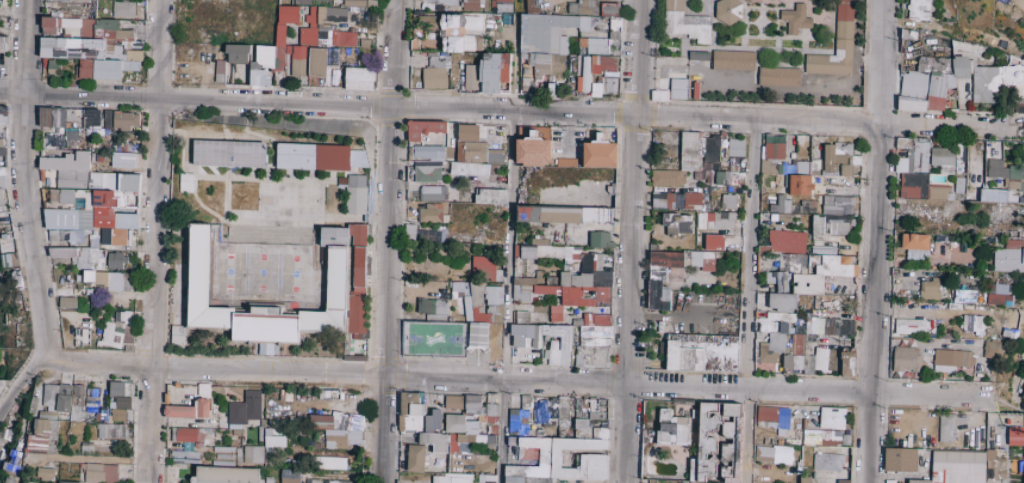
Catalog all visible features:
building: (312, 2)
building: (444, 2)
building: (359, 3)
building: (470, 5)
building: (502, 5)
building: (530, 5)
building: (582, 6)
building: (122, 9)
building: (609, 9)
building: (918, 10)
building: (728, 11)
building: (795, 18)
building: (685, 22)
building: (326, 27)
building: (614, 31)
building: (459, 32)
building: (3, 43)
building: (544, 44)
building: (836, 45)
building: (90, 46)
building: (277, 51)
building: (237, 53)
building: (698, 56)
building: (732, 60)
building: (319, 62)
building: (219, 71)
building: (435, 72)
building: (487, 73)
building: (582, 74)
building: (603, 75)
building: (778, 76)
building: (359, 78)
building: (954, 82)
building: (677, 88)
building: (659, 95)
building: (1020, 109)
building: (3, 115)
building: (61, 117)
building: (106, 118)
building: (125, 120)
building: (92, 121)
building: (423, 129)
building: (70, 137)
building: (53, 140)
building: (473, 146)
building: (735, 147)
building: (534, 148)
building: (2, 152)
building: (427, 152)
building: (599, 153)
building: (229, 154)
building: (912, 155)
building: (320, 157)
building: (834, 157)
building: (779, 158)
building: (942, 159)
building: (124, 160)
building: (689, 160)
building: (67, 169)
building: (994, 169)
building: (468, 170)
building: (426, 173)
building: (2, 177)
building: (721, 178)
building: (1016, 179)
road: (21, 180)
building: (185, 183)
building: (800, 185)
building: (920, 188)
building: (432, 193)
building: (355, 195)
building: (490, 196)
building: (999, 196)
building: (1, 199)
building: (662, 199)
building: (690, 201)
building: (727, 201)
building: (779, 205)
building: (837, 205)
building: (430, 213)
building: (564, 215)
building: (715, 220)
building: (677, 224)
building: (836, 224)
building: (817, 225)
building: (409, 232)
building: (57, 235)
building: (428, 235)
building: (598, 239)
road: (153, 241)
road: (386, 241)
road: (630, 241)
building: (786, 241)
building: (915, 245)
building: (822, 250)
building: (6, 251)
building: (547, 251)
building: (1009, 256)
building: (115, 260)
building: (587, 261)
building: (791, 263)
building: (830, 265)
building: (94, 268)
building: (483, 268)
building: (656, 275)
building: (601, 277)
building: (777, 279)
building: (807, 284)
building: (457, 287)
building: (999, 288)
building: (928, 289)
building: (338, 290)
building: (531, 290)
building: (581, 291)
building: (493, 295)
building: (970, 296)
building: (999, 300)
building: (67, 302)
building: (781, 302)
building: (432, 308)
building: (555, 311)
building: (479, 315)
building: (972, 324)
building: (831, 326)
building: (910, 326)
building: (1010, 327)
building: (117, 330)
building: (177, 335)
building: (440, 338)
building: (593, 342)
building: (525, 343)
building: (796, 344)
building: (770, 349)
building: (992, 349)
building: (702, 353)
building: (616, 357)
building: (905, 359)
building: (951, 361)
building: (791, 363)
building: (847, 364)
building: (118, 388)
building: (203, 394)
building: (1023, 395)
building: (92, 397)
building: (122, 402)
building: (452, 402)
building: (473, 404)
building: (245, 408)
building: (491, 410)
building: (411, 411)
building: (857, 413)
building: (47, 415)
building: (117, 415)
building: (773, 417)
building: (831, 418)
building: (433, 420)
building: (580, 425)
building: (672, 428)
building: (946, 428)
building: (339, 429)
building: (110, 431)
building: (461, 433)
building: (185, 434)
building: (40, 436)
building: (1015, 436)
building: (821, 437)
building: (434, 441)
building: (273, 442)
building: (717, 443)
building: (1, 444)
building: (187, 446)
building: (86, 447)
building: (252, 454)
building: (772, 454)
building: (183, 457)
building: (415, 458)
building: (559, 458)
building: (900, 459)
building: (827, 462)
building: (329, 463)
building: (994, 466)
building: (956, 467)
building: (47, 473)
building: (100, 473)
building: (225, 475)
building: (289, 476)
building: (1023, 476)
building: (450, 478)
building: (487, 479)
building: (11, 480)
building: (313, 481)
building: (890, 481)
building: (68, 482)
building: (340, 482)

